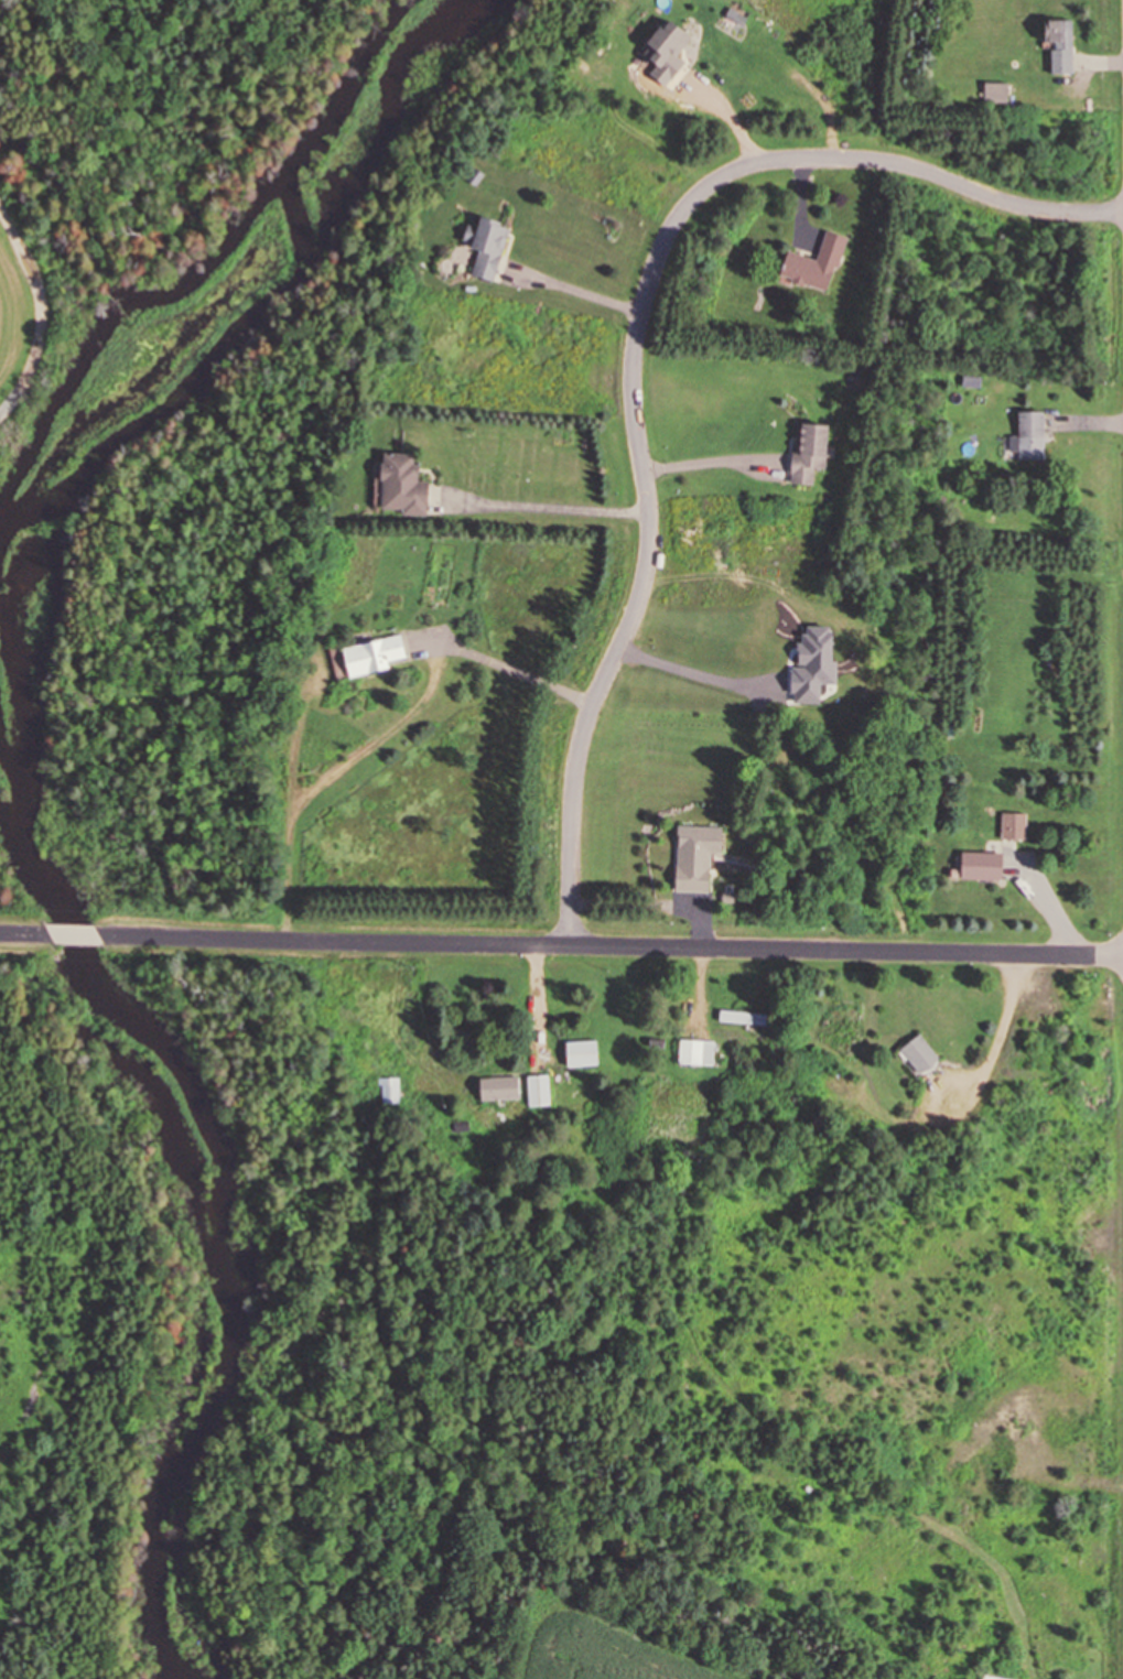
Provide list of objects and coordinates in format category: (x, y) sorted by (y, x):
building: (1058, 44)
building: (485, 245)
building: (813, 263)
road: (580, 289)
river: (270, 316)
river: (108, 322)
road: (631, 347)
building: (971, 380)
building: (1028, 434)
building: (806, 451)
building: (400, 485)
road: (560, 507)
building: (371, 654)
building: (1012, 825)
building: (693, 856)
building: (979, 866)
building: (63, 899)
road: (26, 932)
road: (75, 933)
road: (609, 946)
building: (742, 1016)
building: (699, 1051)
building: (580, 1052)
building: (917, 1052)
building: (498, 1086)
building: (389, 1088)
building: (538, 1088)
building: (458, 1126)
river: (228, 1185)
building: (992, 1677)

